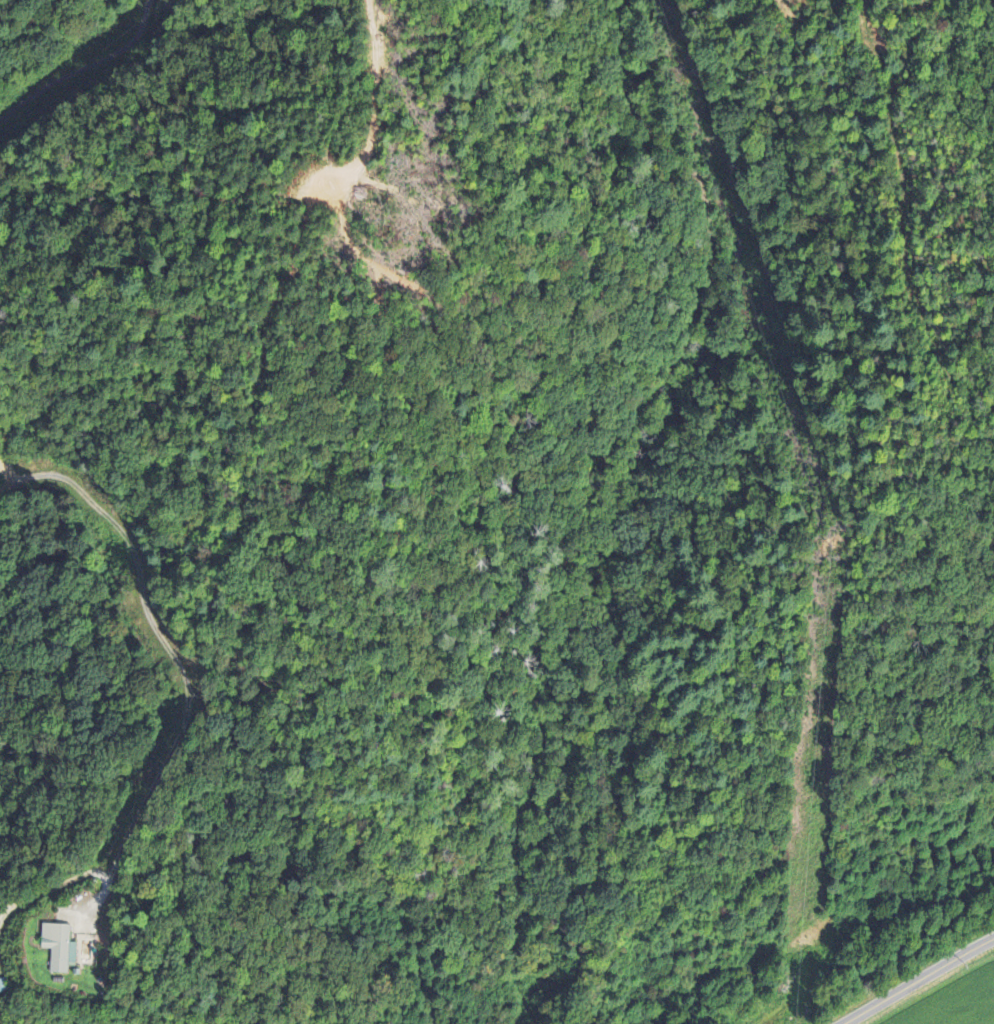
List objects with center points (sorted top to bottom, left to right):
road: (83, 66)
road: (172, 656)
road: (52, 887)
building: (58, 948)
road: (914, 978)

